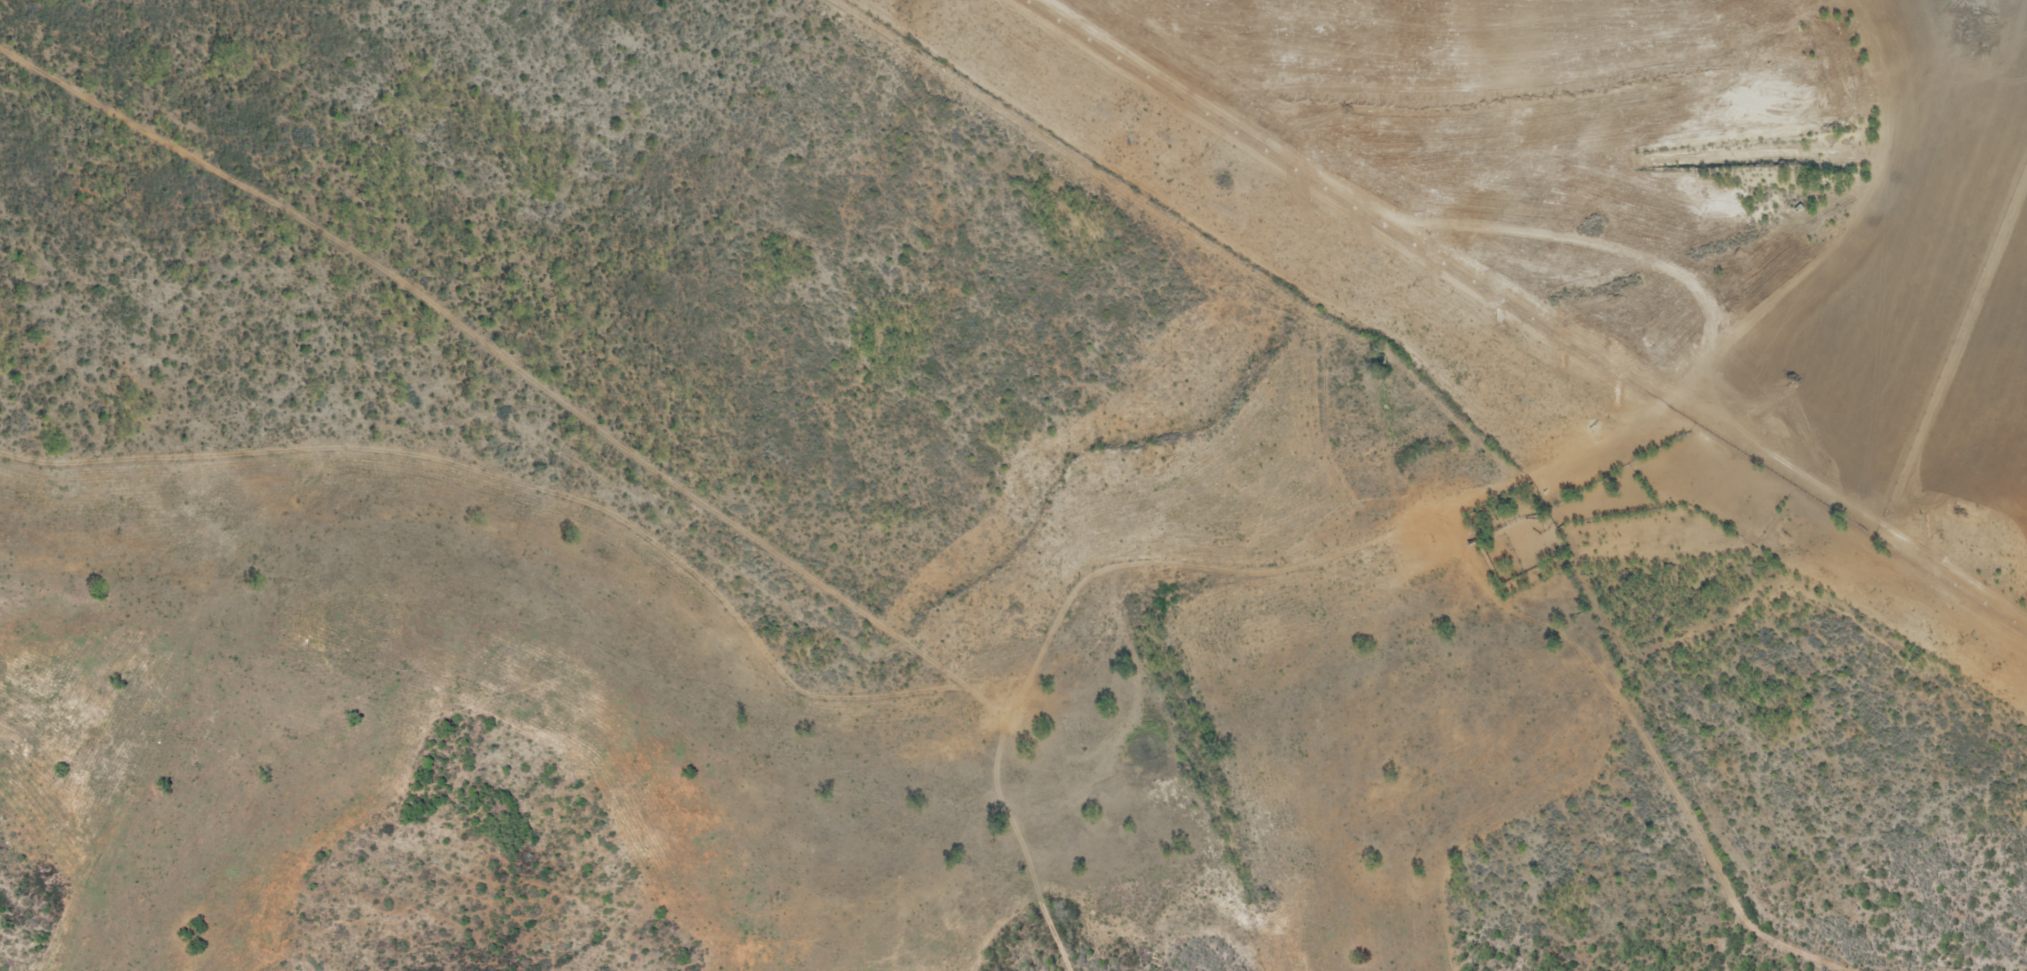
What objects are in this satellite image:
road: (1532, 310)
road: (1438, 515)

